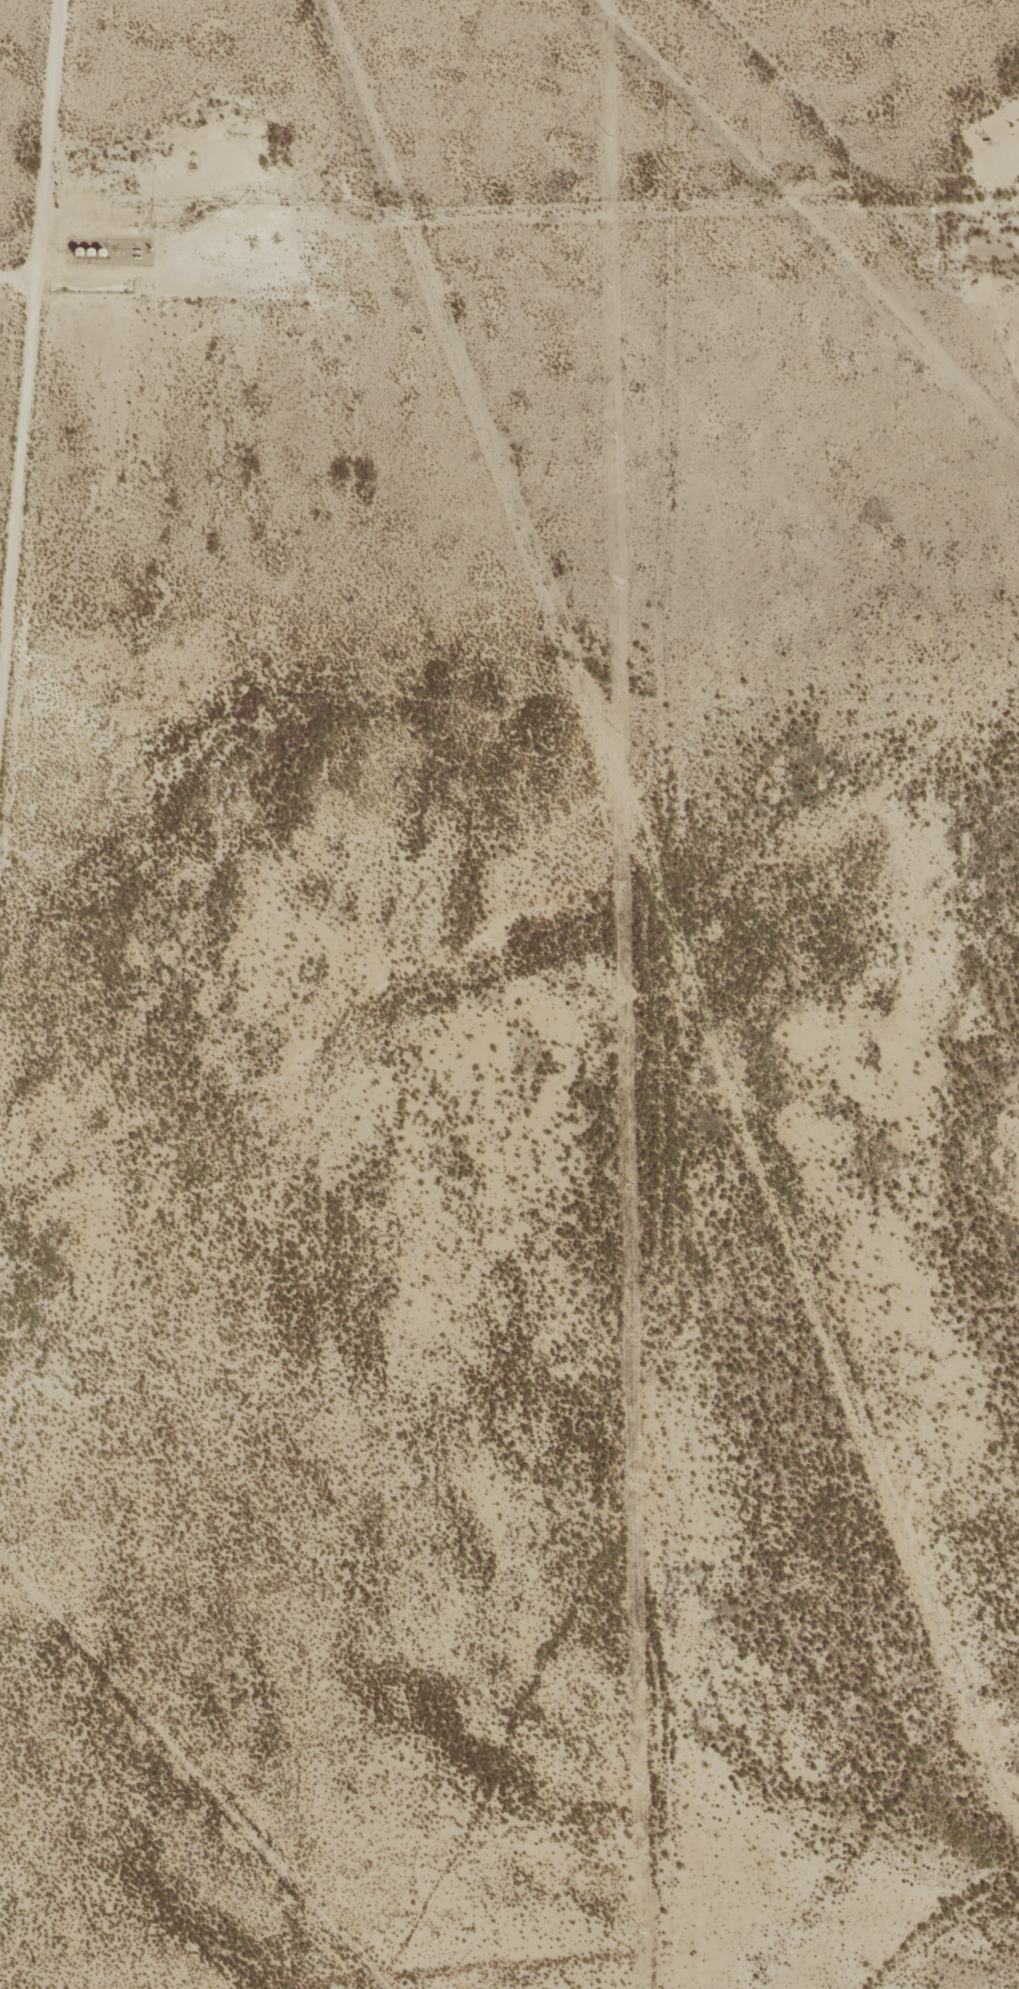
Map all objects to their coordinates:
road: (38, 296)
road: (686, 994)

